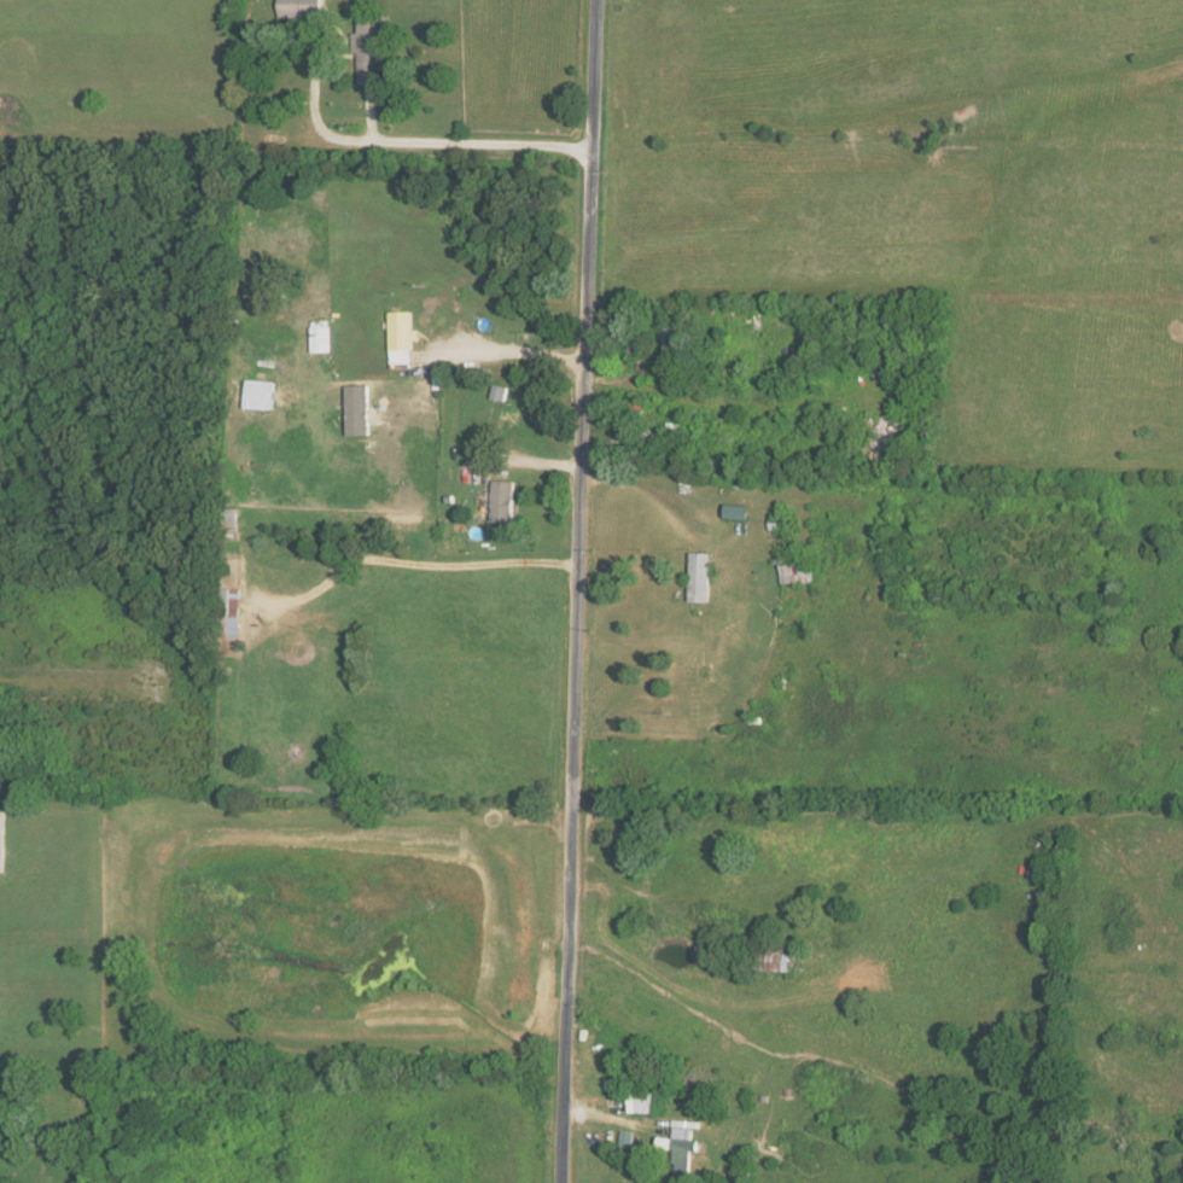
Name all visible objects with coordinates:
building: (301, 8)
building: (373, 49)
road: (454, 146)
building: (402, 337)
building: (322, 338)
building: (670, 348)
building: (500, 392)
building: (260, 394)
road: (647, 496)
building: (503, 501)
building: (739, 512)
building: (780, 523)
building: (796, 569)
building: (700, 577)
road: (577, 590)
building: (229, 612)
road: (645, 641)
road: (78, 687)
building: (780, 958)
building: (646, 1102)

